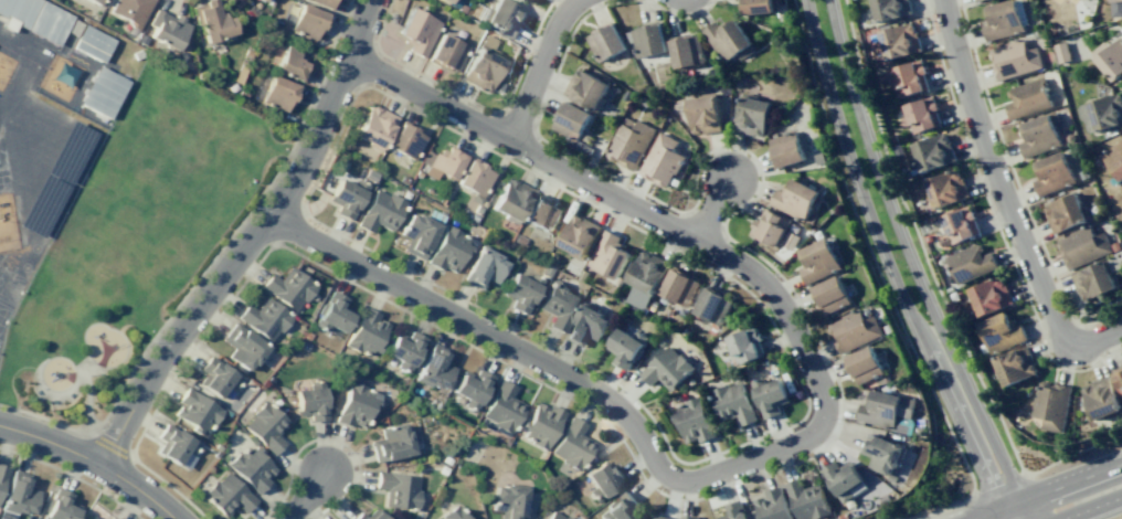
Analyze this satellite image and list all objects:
building: (260, 0)
building: (977, 0)
building: (93, 1)
building: (444, 1)
road: (653, 1)
building: (322, 3)
building: (756, 6)
building: (459, 8)
building: (1116, 8)
building: (890, 9)
building: (130, 10)
road: (688, 17)
building: (34, 18)
building: (504, 18)
building: (1002, 20)
building: (306, 21)
building: (210, 22)
building: (166, 29)
building: (416, 31)
building: (140, 39)
building: (647, 39)
building: (726, 39)
building: (899, 40)
building: (605, 41)
building: (92, 43)
building: (686, 50)
building: (1061, 51)
building: (445, 53)
building: (1109, 57)
building: (1014, 59)
building: (290, 62)
road: (325, 63)
building: (481, 64)
road: (538, 68)
building: (910, 77)
building: (498, 87)
building: (586, 89)
building: (102, 92)
building: (277, 93)
building: (627, 95)
building: (1027, 98)
road: (467, 99)
building: (643, 100)
building: (1105, 112)
building: (703, 114)
building: (921, 114)
building: (752, 115)
building: (570, 119)
building: (373, 127)
road: (536, 131)
building: (1039, 135)
building: (588, 138)
building: (405, 140)
building: (628, 142)
building: (582, 147)
building: (785, 149)
building: (933, 151)
building: (819, 158)
building: (1114, 158)
building: (661, 160)
building: (441, 162)
road: (694, 172)
road: (759, 172)
building: (416, 173)
building: (1052, 173)
building: (1084, 173)
building: (369, 174)
building: (473, 177)
building: (402, 180)
road: (1017, 186)
building: (944, 189)
building: (345, 197)
building: (475, 198)
building: (794, 199)
road: (1004, 199)
building: (510, 200)
road: (710, 208)
building: (476, 209)
building: (380, 211)
building: (542, 213)
building: (1065, 213)
building: (434, 215)
building: (472, 218)
road: (994, 220)
building: (960, 224)
building: (769, 227)
building: (416, 234)
building: (579, 236)
park: (134, 237)
building: (517, 239)
road: (247, 240)
building: (791, 240)
building: (944, 241)
building: (469, 242)
building: (1083, 246)
building: (447, 250)
building: (608, 255)
road: (909, 256)
building: (550, 257)
building: (818, 261)
building: (970, 263)
building: (481, 267)
road: (890, 267)
building: (546, 269)
building: (582, 275)
building: (644, 278)
road: (881, 280)
building: (1093, 280)
building: (287, 287)
building: (679, 287)
road: (364, 288)
road: (938, 289)
building: (520, 290)
building: (829, 295)
building: (989, 296)
building: (664, 299)
building: (654, 304)
building: (559, 305)
building: (712, 305)
building: (684, 311)
building: (332, 314)
road: (167, 318)
building: (264, 318)
building: (588, 325)
building: (888, 328)
building: (854, 330)
building: (682, 331)
building: (364, 332)
building: (1001, 332)
building: (659, 341)
building: (744, 345)
building: (241, 346)
building: (626, 347)
building: (403, 350)
building: (862, 364)
building: (1015, 366)
building: (434, 367)
building: (667, 369)
road: (793, 369)
road: (89, 370)
building: (214, 377)
building: (1119, 378)
road: (73, 386)
building: (470, 389)
building: (769, 395)
road: (841, 399)
building: (1101, 399)
building: (309, 402)
building: (733, 403)
building: (1051, 404)
building: (356, 405)
building: (502, 406)
building: (888, 410)
building: (194, 411)
building: (694, 420)
building: (539, 424)
building: (265, 426)
road: (813, 432)
building: (390, 443)
building: (173, 444)
building: (571, 444)
road: (108, 445)
building: (881, 452)
road: (290, 458)
road: (93, 462)
road: (356, 466)
building: (250, 468)
building: (2, 476)
road: (74, 476)
building: (602, 479)
building: (843, 480)
building: (892, 483)
road: (1069, 483)
road: (998, 485)
road: (169, 486)
building: (396, 488)
building: (226, 494)
road: (305, 495)
building: (19, 496)
building: (806, 500)
building: (508, 501)
building: (772, 505)
building: (61, 506)
road: (273, 506)
road: (1093, 507)
building: (620, 508)
road: (319, 510)
building: (734, 510)
road: (997, 511)
road: (1018, 511)
building: (452, 513)
building: (368, 515)
building: (554, 516)
building: (659, 517)
building: (89, 518)
building: (93, 518)
building: (110, 518)
building: (113, 518)
building: (689, 518)

